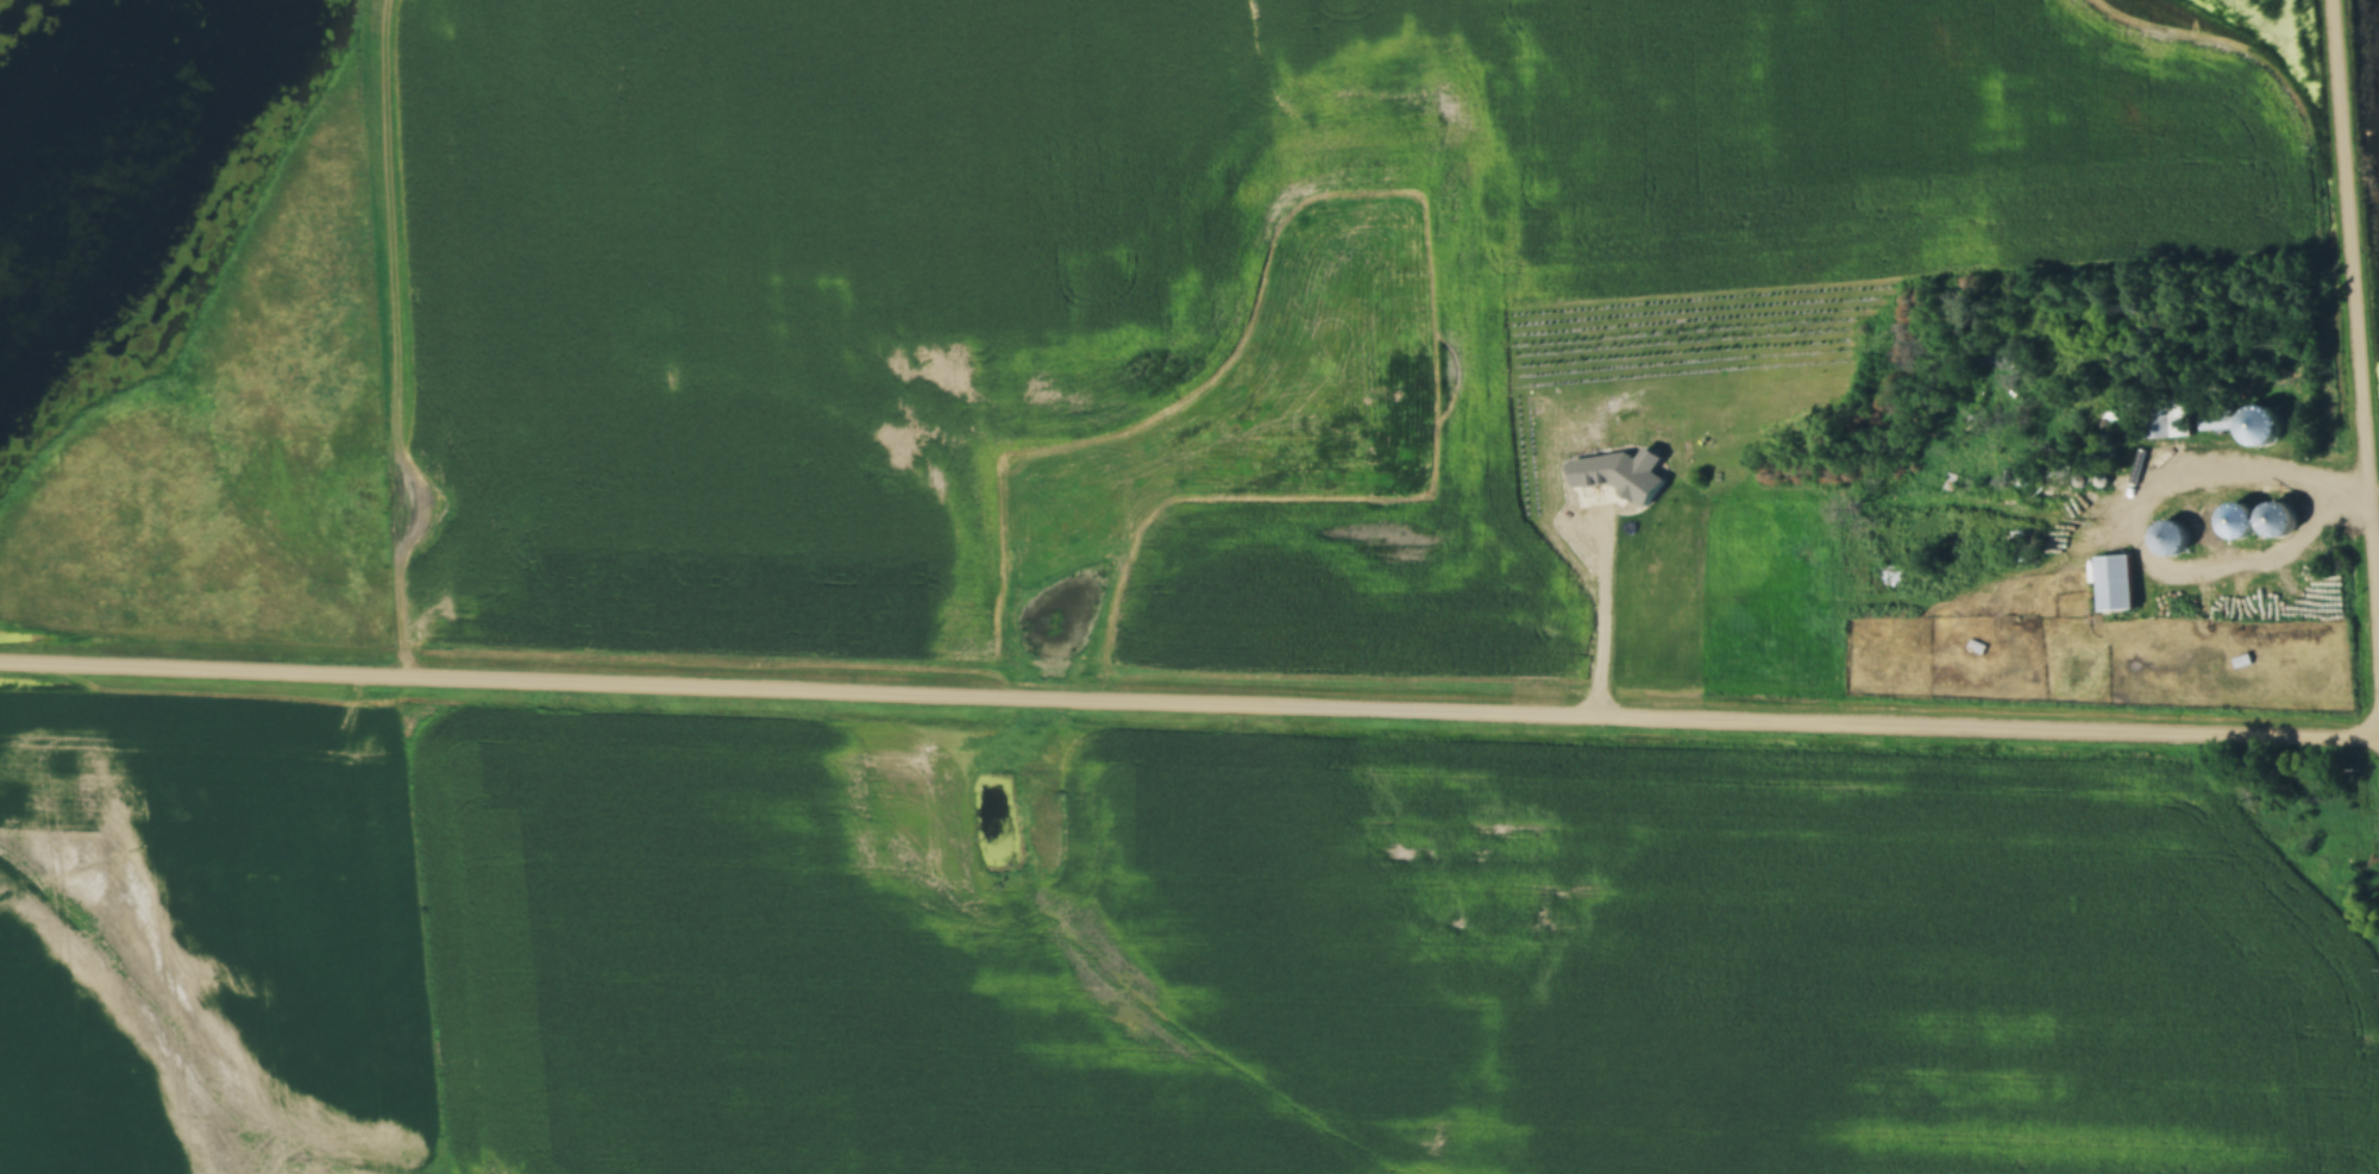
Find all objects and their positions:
road: (2358, 282)
building: (2261, 412)
building: (2172, 419)
building: (2217, 419)
road: (2243, 471)
building: (1971, 492)
building: (2240, 520)
building: (1971, 521)
building: (2170, 536)
building: (2019, 544)
building: (2115, 582)
road: (1189, 702)

